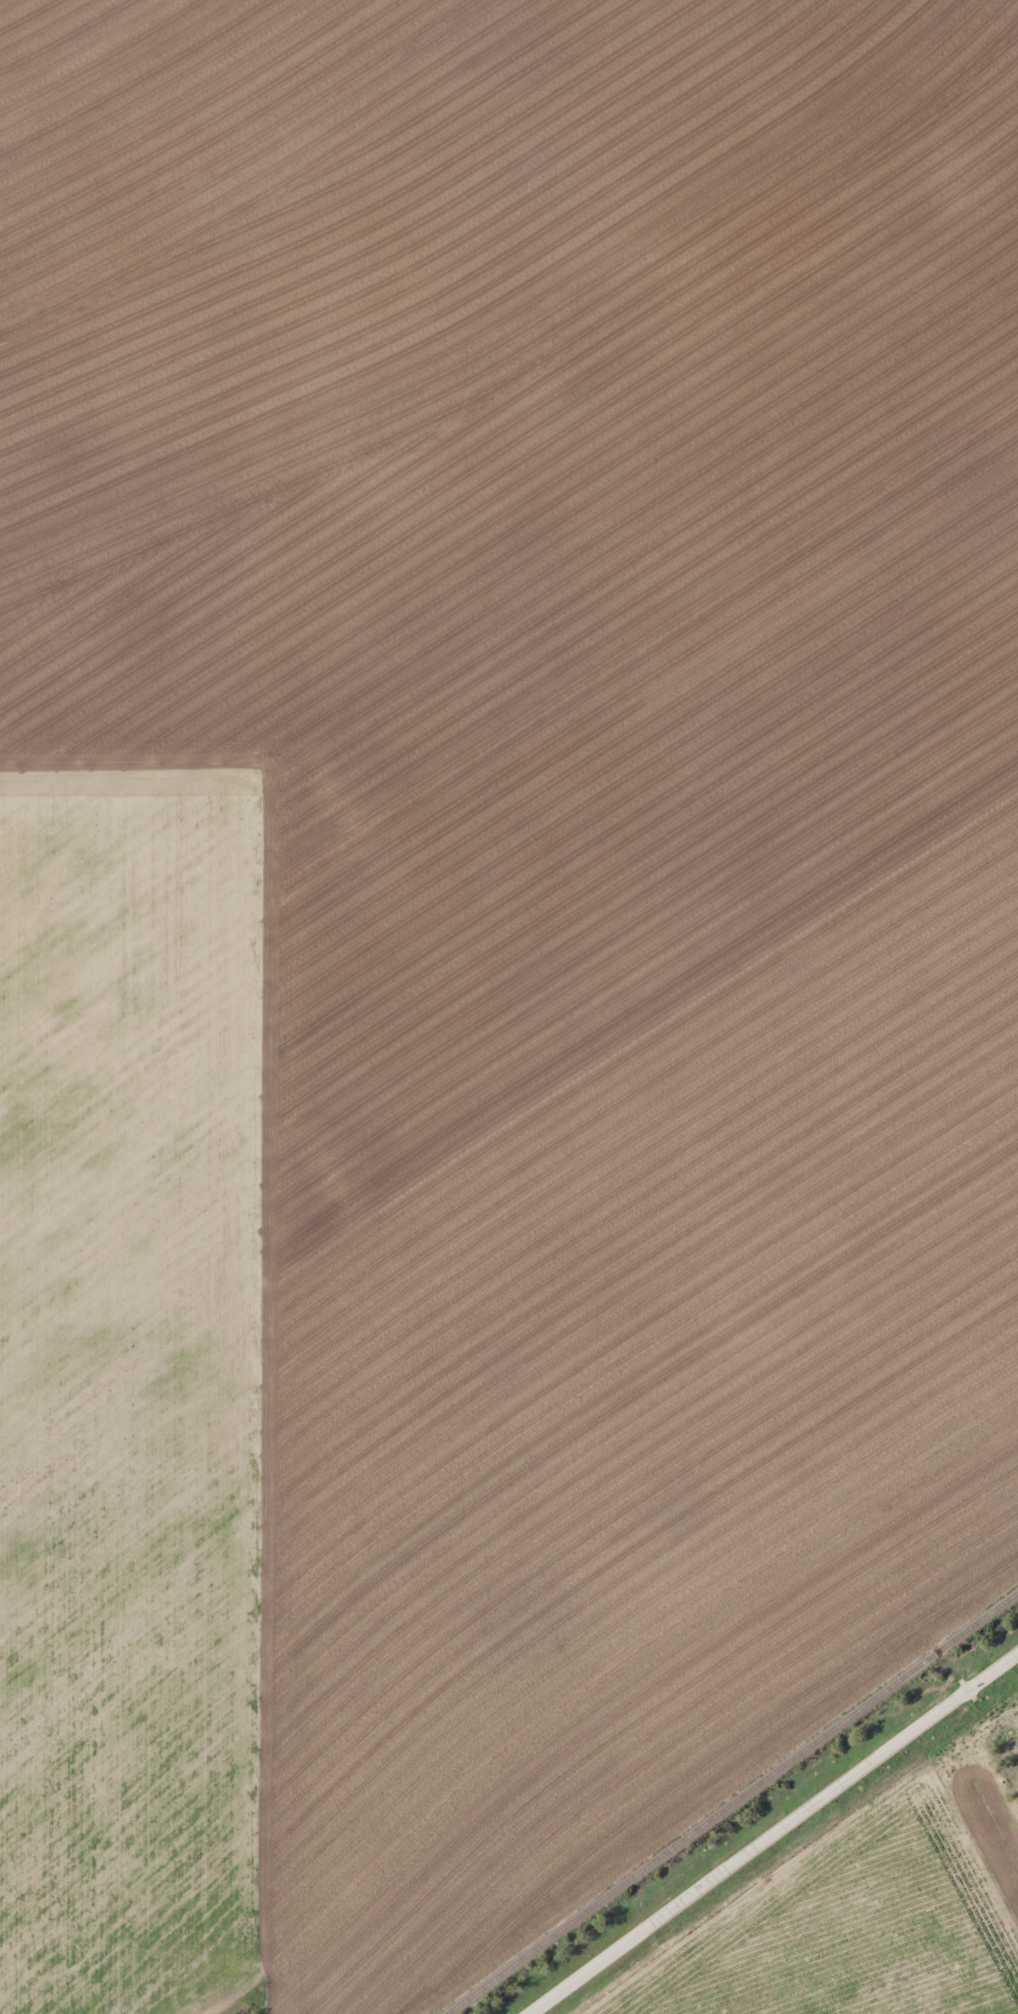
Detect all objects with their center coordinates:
railway: (731, 1802)
road: (772, 1832)

